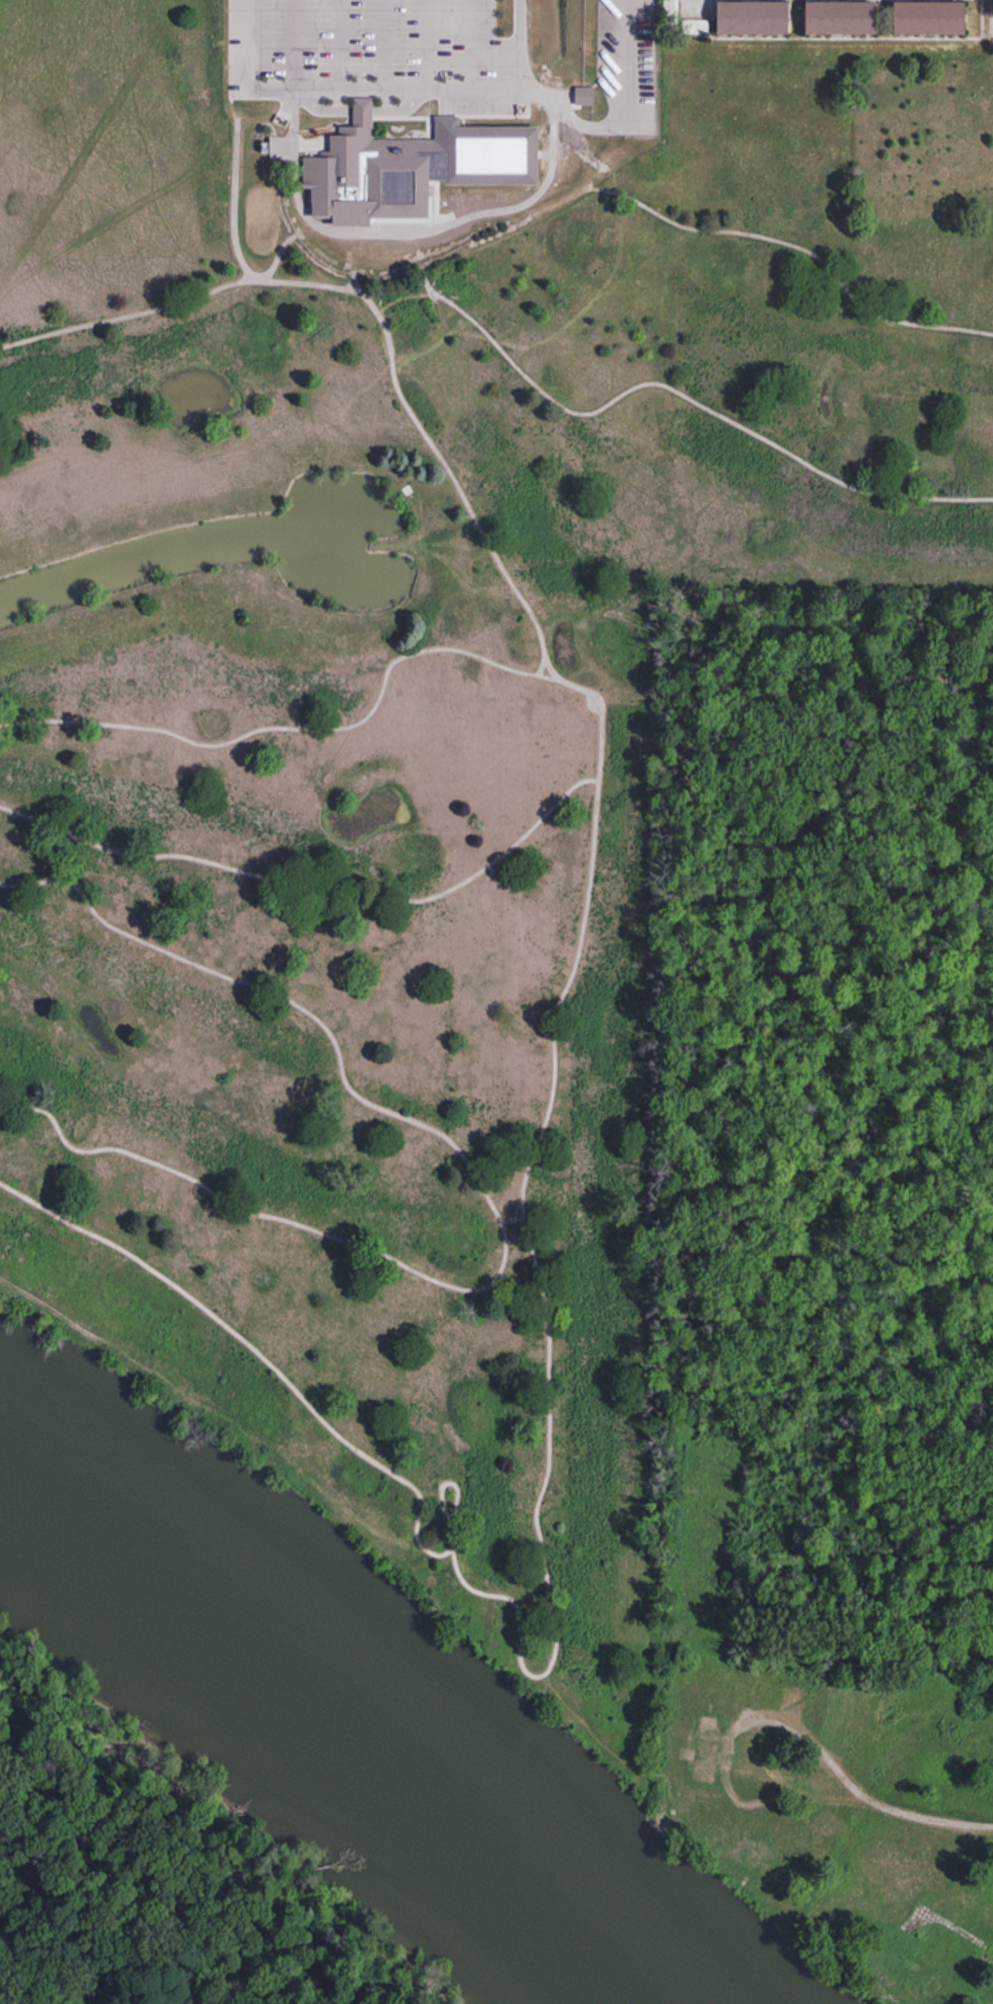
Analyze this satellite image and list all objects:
building: (671, 9)
building: (844, 18)
road: (484, 19)
parking lot: (411, 64)
building: (423, 163)
road: (235, 228)
road: (407, 229)
road: (298, 233)
road: (799, 246)
road: (352, 255)
road: (305, 283)
road: (394, 284)
road: (356, 289)
road: (364, 293)
road: (129, 316)
road: (665, 385)
road: (454, 478)
road: (540, 675)
road: (387, 677)
park: (398, 723)
road: (126, 725)
road: (389, 899)
road: (560, 1000)
road: (296, 1004)
road: (268, 1215)
park: (823, 1251)
road: (238, 1335)
road: (455, 1510)
road: (540, 1537)
building: (839, 1709)
river: (332, 1747)
building: (708, 1752)
road: (978, 1827)
building: (754, 1855)
road: (182, 1868)

